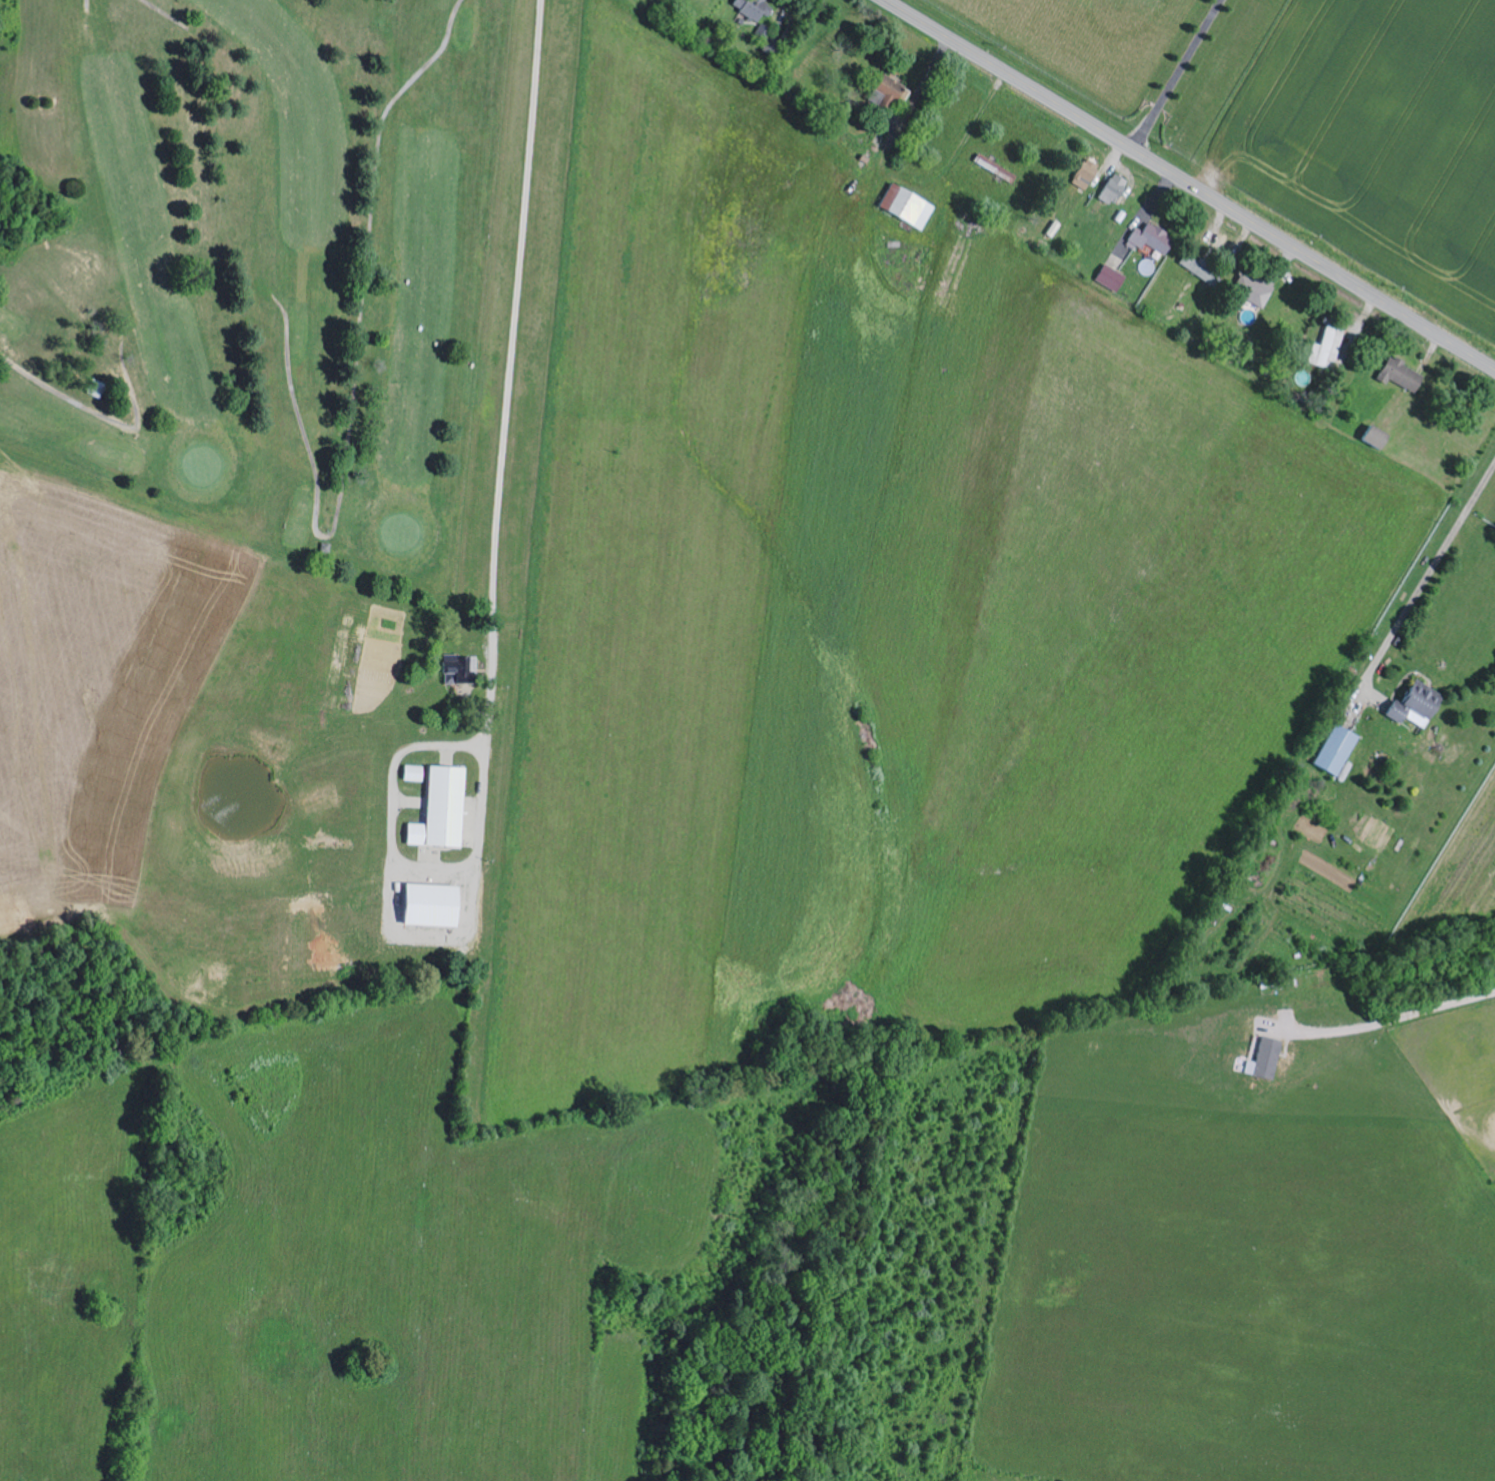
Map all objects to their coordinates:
building: (752, 9)
road: (1196, 83)
building: (886, 88)
building: (991, 167)
building: (1081, 173)
road: (1189, 184)
building: (1110, 189)
building: (903, 207)
building: (1146, 238)
park: (249, 250)
building: (1107, 277)
building: (1250, 290)
road: (662, 324)
building: (1324, 347)
building: (1396, 374)
building: (1370, 437)
road: (1483, 499)
building: (455, 668)
building: (1411, 703)
building: (1333, 749)
building: (409, 772)
building: (436, 808)
building: (423, 903)
building: (1261, 1057)

